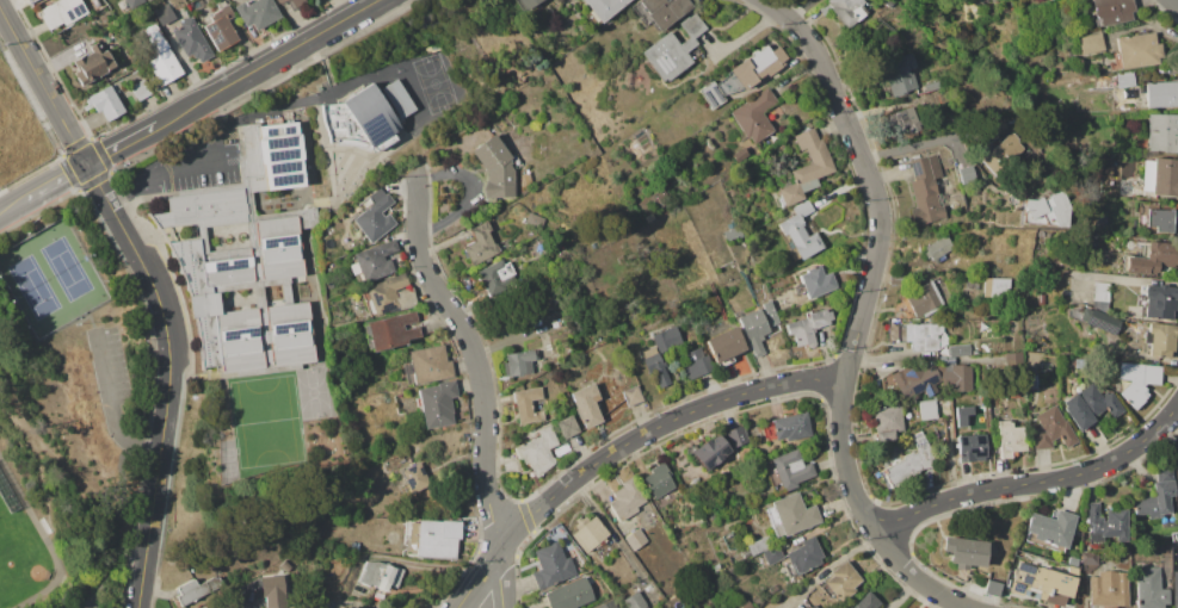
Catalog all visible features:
building: (32, 0)
building: (982, 0)
building: (279, 1)
building: (95, 2)
building: (134, 2)
building: (295, 2)
building: (528, 4)
road: (1172, 4)
building: (604, 7)
road: (800, 8)
road: (773, 10)
building: (844, 10)
building: (166, 11)
building: (664, 11)
building: (1110, 11)
building: (62, 13)
building: (258, 13)
building: (221, 29)
building: (191, 38)
building: (1090, 43)
building: (433, 48)
building: (674, 48)
building: (1137, 50)
building: (162, 60)
road: (267, 62)
building: (91, 63)
building: (752, 67)
building: (900, 74)
building: (1124, 79)
building: (932, 85)
road: (43, 86)
building: (141, 89)
building: (1161, 93)
building: (711, 95)
building: (106, 103)
building: (754, 114)
building: (372, 118)
building: (906, 119)
building: (1162, 134)
road: (122, 144)
road: (923, 144)
building: (1004, 154)
traffic signals: (87, 165)
building: (807, 167)
building: (495, 168)
road: (160, 175)
building: (1165, 178)
road: (56, 181)
building: (926, 190)
building: (285, 194)
building: (276, 196)
building: (946, 196)
building: (266, 197)
building: (825, 198)
building: (659, 199)
building: (286, 204)
building: (277, 205)
road: (13, 206)
building: (267, 206)
building: (1034, 206)
building: (1060, 210)
building: (374, 215)
building: (649, 218)
building: (536, 219)
building: (1161, 219)
building: (732, 231)
building: (801, 231)
building: (481, 244)
building: (938, 249)
building: (247, 258)
building: (1153, 258)
building: (374, 261)
building: (495, 275)
building: (899, 278)
park: (54, 279)
building: (816, 281)
building: (997, 287)
building: (1100, 291)
building: (389, 294)
building: (1041, 298)
building: (924, 300)
building: (1159, 302)
building: (770, 312)
building: (1099, 321)
building: (808, 325)
road: (857, 327)
building: (753, 329)
building: (390, 331)
building: (923, 335)
building: (667, 339)
building: (1161, 339)
building: (724, 346)
building: (985, 347)
building: (960, 350)
road: (475, 359)
building: (946, 359)
building: (518, 362)
building: (431, 364)
building: (696, 364)
building: (656, 370)
road: (168, 377)
building: (958, 378)
building: (915, 380)
building: (1031, 380)
building: (1136, 380)
building: (1066, 389)
building: (633, 396)
building: (593, 397)
building: (437, 404)
building: (526, 405)
building: (1088, 407)
building: (926, 409)
road: (112, 411)
park: (68, 414)
building: (962, 415)
building: (949, 421)
building: (887, 422)
building: (790, 426)
building: (567, 427)
road: (653, 428)
building: (1053, 429)
building: (738, 435)
building: (1010, 438)
building: (419, 445)
building: (972, 448)
building: (538, 451)
building: (711, 452)
building: (909, 461)
building: (943, 461)
building: (791, 469)
building: (415, 477)
building: (658, 480)
road: (1032, 483)
building: (1157, 496)
building: (625, 501)
building: (713, 514)
building: (794, 514)
building: (1108, 525)
building: (1051, 527)
road: (119, 529)
building: (588, 533)
building: (1176, 536)
building: (437, 539)
building: (636, 539)
road: (47, 544)
building: (758, 545)
building: (354, 546)
building: (606, 550)
building: (966, 551)
building: (1164, 551)
park: (18, 554)
building: (772, 554)
building: (804, 556)
building: (1090, 558)
building: (1073, 560)
building: (285, 566)
building: (551, 566)
building: (716, 567)
building: (381, 575)
road: (479, 579)
road: (500, 579)
building: (841, 581)
building: (1042, 583)
building: (992, 588)
building: (1149, 588)
building: (197, 589)
building: (1109, 589)
building: (1174, 589)
building: (569, 595)
building: (276, 597)
building: (635, 601)
building: (866, 602)
building: (607, 604)
building: (746, 604)
building: (353, 607)
building: (813, 607)

